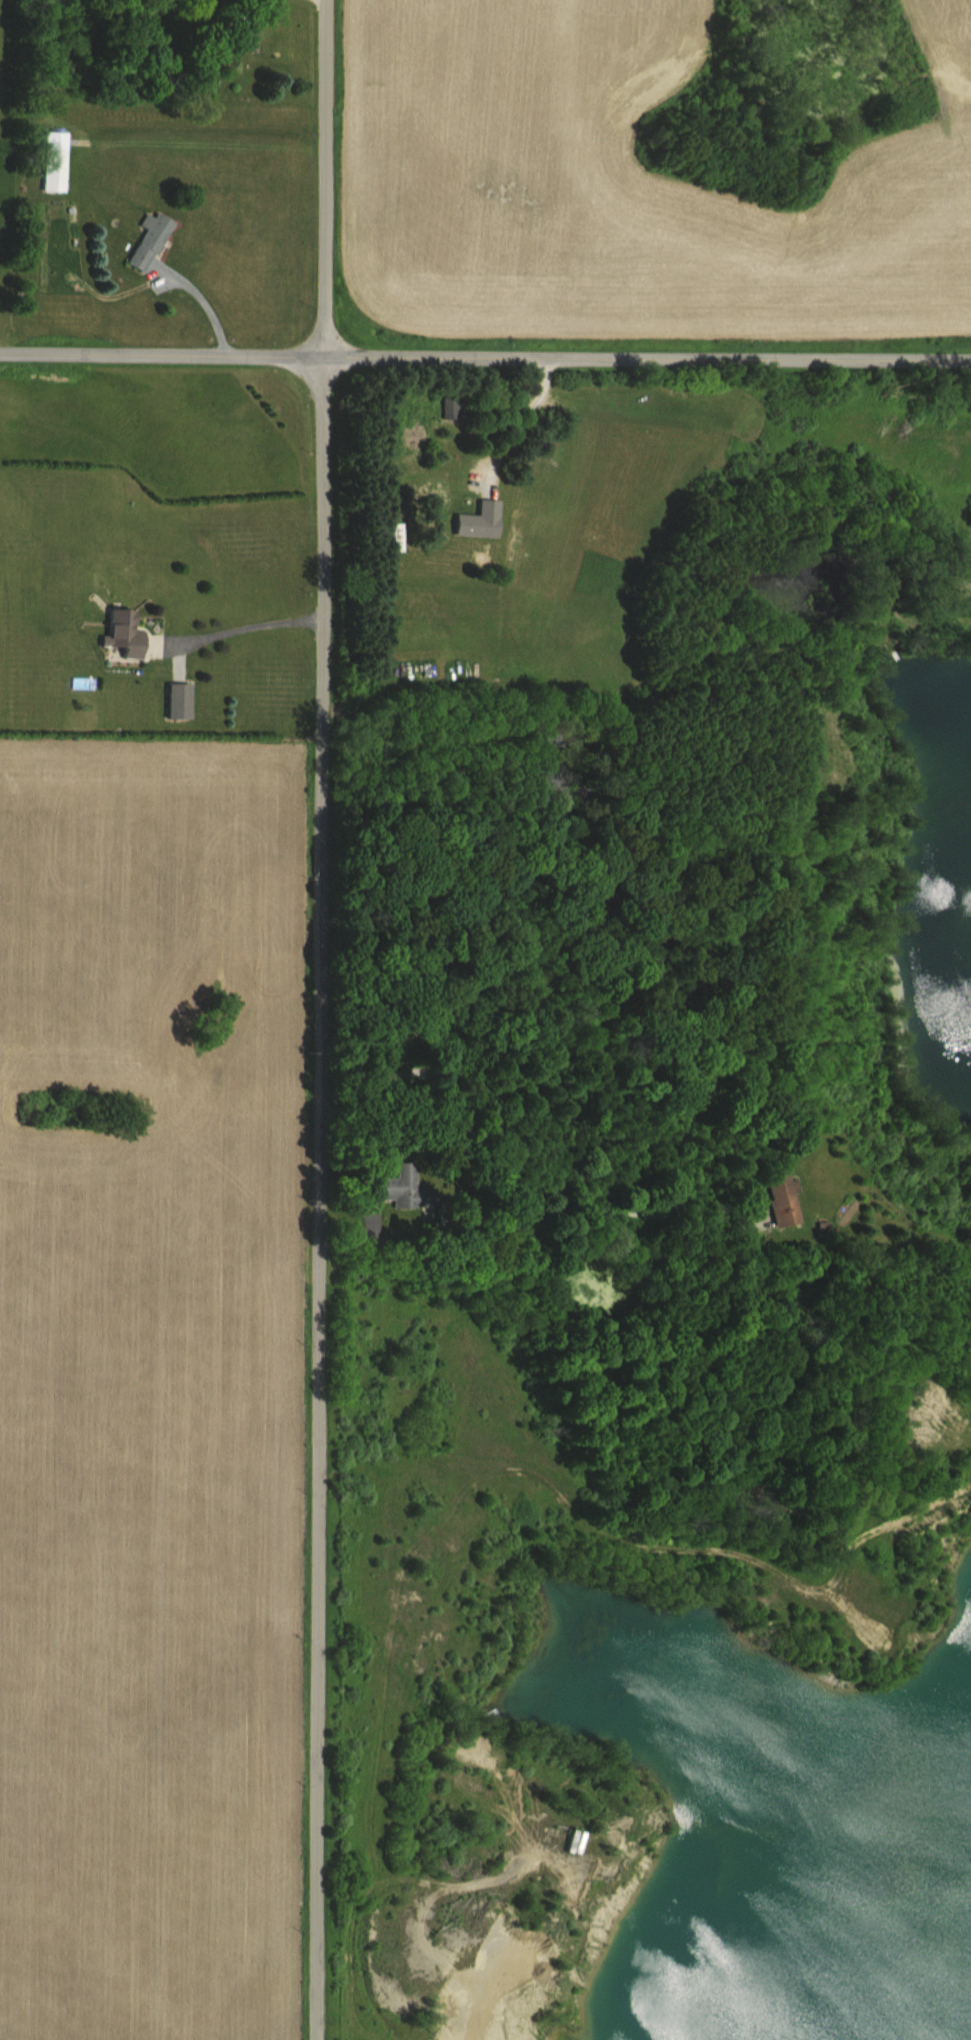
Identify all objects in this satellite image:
building: (248, 38)
building: (55, 163)
building: (153, 241)
road: (169, 278)
road: (209, 302)
road: (485, 357)
building: (448, 407)
road: (517, 425)
building: (477, 519)
building: (390, 536)
road: (242, 630)
building: (121, 632)
building: (176, 700)
road: (318, 1020)
road: (507, 1167)
building: (398, 1187)
building: (780, 1198)

